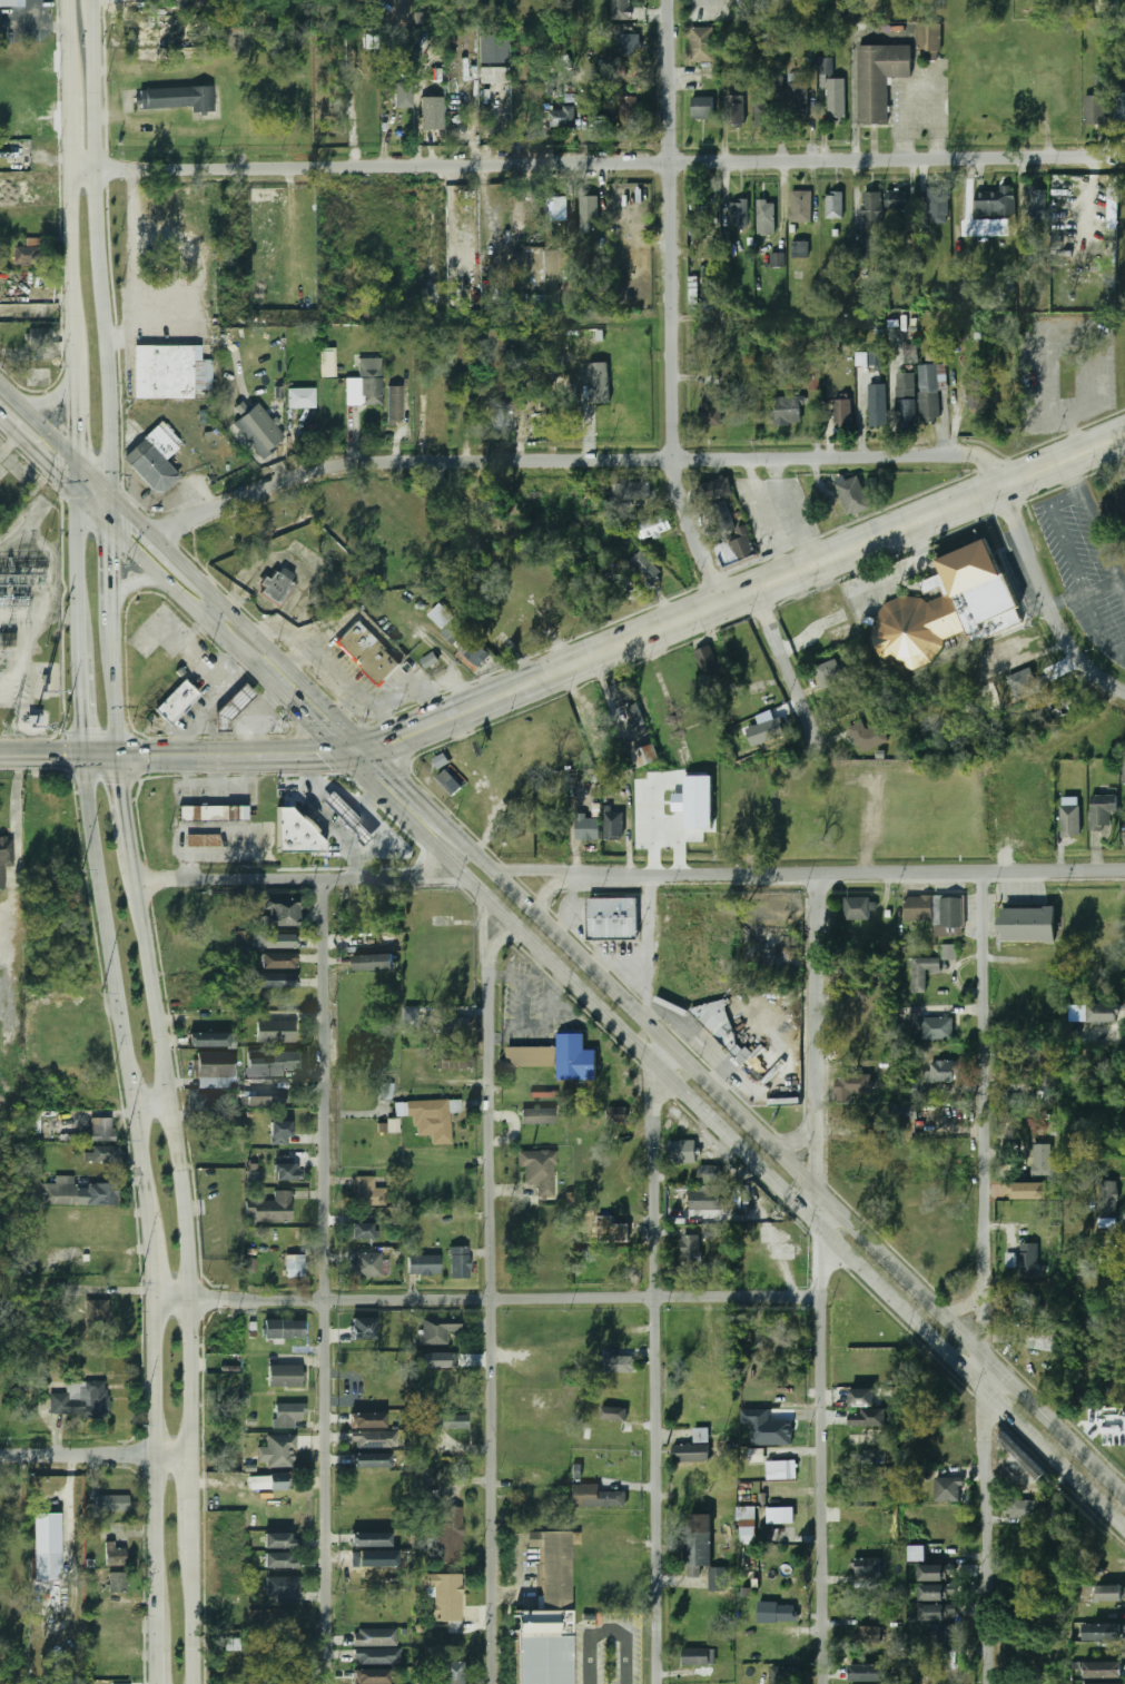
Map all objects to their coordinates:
building: (12, 2)
building: (180, 3)
building: (620, 10)
road: (37, 20)
building: (927, 38)
building: (701, 43)
building: (629, 45)
building: (493, 48)
building: (823, 67)
building: (616, 68)
building: (878, 78)
building: (402, 93)
building: (178, 97)
building: (835, 100)
building: (797, 104)
building: (1119, 106)
building: (702, 108)
building: (766, 108)
building: (1094, 109)
building: (527, 110)
building: (734, 110)
building: (432, 112)
building: (628, 112)
building: (561, 118)
building: (602, 120)
road: (599, 163)
road: (73, 167)
building: (895, 199)
building: (1113, 203)
building: (936, 204)
building: (1037, 204)
building: (833, 205)
building: (995, 205)
building: (800, 206)
building: (552, 207)
building: (562, 209)
building: (586, 213)
building: (738, 213)
building: (764, 216)
building: (630, 219)
building: (870, 225)
building: (993, 227)
road: (109, 242)
road: (102, 246)
building: (799, 248)
building: (22, 255)
building: (519, 258)
building: (777, 259)
building: (531, 299)
building: (693, 299)
road: (670, 306)
building: (895, 338)
building: (876, 357)
building: (327, 363)
building: (169, 371)
building: (598, 382)
building: (365, 383)
building: (930, 392)
road: (55, 396)
road: (77, 396)
building: (974, 396)
building: (298, 397)
building: (905, 397)
building: (876, 401)
building: (394, 406)
building: (710, 406)
building: (786, 411)
building: (841, 412)
building: (500, 416)
road: (38, 422)
traffic signals: (77, 432)
building: (251, 434)
road: (92, 453)
road: (38, 457)
building: (152, 460)
road: (581, 460)
road: (31, 464)
road: (61, 464)
traffic signals: (56, 474)
road: (78, 477)
building: (714, 489)
building: (632, 491)
building: (8, 492)
building: (852, 496)
building: (1114, 505)
road: (126, 506)
road: (147, 506)
road: (95, 513)
traffic signals: (134, 513)
road: (789, 513)
road: (767, 516)
road: (922, 522)
building: (654, 525)
road: (1094, 528)
building: (471, 534)
building: (730, 535)
traffic signals: (112, 555)
road: (77, 557)
parking lot: (1088, 563)
building: (645, 567)
road: (111, 574)
building: (285, 574)
road: (897, 574)
road: (134, 582)
building: (274, 588)
road: (174, 590)
road: (1082, 591)
road: (1047, 601)
road: (213, 609)
building: (951, 610)
building: (835, 619)
power substation: (29, 623)
building: (524, 627)
building: (840, 634)
building: (6, 640)
road: (63, 649)
road: (274, 650)
building: (1001, 652)
building: (367, 653)
building: (475, 653)
building: (430, 660)
building: (708, 664)
road: (787, 670)
building: (988, 672)
building: (828, 673)
road: (546, 676)
road: (77, 686)
road: (249, 686)
building: (1000, 690)
road: (608, 696)
road: (288, 701)
building: (175, 702)
road: (208, 702)
road: (111, 703)
building: (626, 703)
building: (230, 709)
road: (256, 718)
traffic signals: (307, 720)
traffic signals: (77, 728)
building: (768, 730)
power tower: (9, 736)
building: (866, 736)
traffic signals: (392, 739)
road: (356, 750)
road: (95, 752)
traffic signals: (146, 752)
road: (174, 752)
road: (38, 754)
traffic signals: (61, 754)
road: (288, 754)
traffic signals: (325, 754)
building: (644, 756)
building: (1123, 774)
traffic signals: (402, 777)
building: (447, 782)
traffic signals: (118, 785)
road: (346, 795)
road: (425, 801)
building: (695, 801)
road: (120, 804)
building: (1101, 811)
building: (211, 813)
road: (323, 819)
building: (348, 819)
gas station: (348, 819)
building: (1069, 820)
building: (613, 824)
building: (586, 828)
building: (296, 833)
road: (665, 838)
building: (201, 840)
building: (4, 855)
road: (428, 869)
road: (845, 873)
road: (435, 876)
road: (531, 876)
road: (272, 878)
road: (546, 896)
building: (857, 908)
building: (279, 913)
building: (935, 913)
building: (615, 918)
building: (1028, 925)
road: (482, 928)
road: (499, 937)
building: (372, 939)
building: (275, 941)
road: (564, 941)
road: (651, 951)
building: (947, 952)
building: (277, 962)
building: (373, 963)
building: (920, 972)
road: (111, 975)
building: (276, 981)
building: (1105, 1013)
building: (935, 1028)
building: (274, 1032)
building: (210, 1041)
road: (662, 1055)
building: (557, 1057)
building: (454, 1060)
building: (273, 1063)
building: (214, 1071)
building: (943, 1072)
road: (983, 1080)
building: (853, 1086)
building: (385, 1090)
building: (1018, 1100)
building: (260, 1101)
building: (198, 1103)
road: (149, 1105)
building: (905, 1111)
building: (615, 1115)
building: (539, 1116)
building: (430, 1119)
building: (100, 1130)
building: (280, 1134)
road: (732, 1141)
building: (681, 1151)
building: (105, 1155)
building: (1014, 1158)
building: (1042, 1161)
building: (537, 1171)
building: (284, 1172)
building: (708, 1173)
building: (1030, 1190)
building: (366, 1192)
building: (76, 1194)
building: (1108, 1198)
building: (703, 1201)
building: (273, 1209)
building: (363, 1231)
building: (713, 1231)
building: (618, 1233)
road: (149, 1248)
building: (689, 1248)
road: (888, 1258)
building: (1024, 1261)
building: (458, 1262)
building: (362, 1264)
building: (294, 1266)
building: (423, 1266)
road: (186, 1268)
road: (821, 1278)
road: (328, 1281)
road: (486, 1298)
road: (965, 1307)
building: (95, 1317)
road: (490, 1319)
building: (363, 1329)
building: (435, 1329)
building: (283, 1330)
building: (1039, 1341)
building: (440, 1360)
building: (619, 1365)
road: (655, 1373)
building: (284, 1377)
building: (860, 1399)
building: (76, 1401)
building: (610, 1414)
building: (286, 1416)
building: (866, 1419)
building: (366, 1420)
building: (442, 1422)
building: (372, 1440)
building: (692, 1448)
building: (278, 1451)
road: (92, 1452)
building: (757, 1455)
building: (1022, 1456)
building: (866, 1457)
building: (368, 1460)
building: (781, 1469)
building: (276, 1480)
road: (981, 1485)
building: (947, 1489)
road: (152, 1491)
building: (594, 1497)
building: (110, 1503)
building: (1023, 1509)
building: (780, 1515)
building: (747, 1525)
building: (447, 1535)
building: (369, 1539)
building: (280, 1540)
building: (47, 1546)
building: (701, 1549)
building: (114, 1554)
building: (915, 1554)
building: (280, 1560)
building: (866, 1566)
building: (936, 1573)
building: (115, 1582)
building: (282, 1589)
building: (936, 1593)
building: (1108, 1593)
building: (443, 1595)
building: (777, 1612)
building: (935, 1613)
building: (546, 1618)
building: (453, 1627)
building: (1101, 1632)
building: (868, 1635)
building: (373, 1637)
road: (604, 1637)
building: (943, 1638)
building: (231, 1644)
building: (375, 1656)
building: (698, 1656)
building: (1103, 1671)
building: (451, 1673)
building: (868, 1673)
building: (782, 1674)
building: (371, 1676)
building: (1115, 1683)

